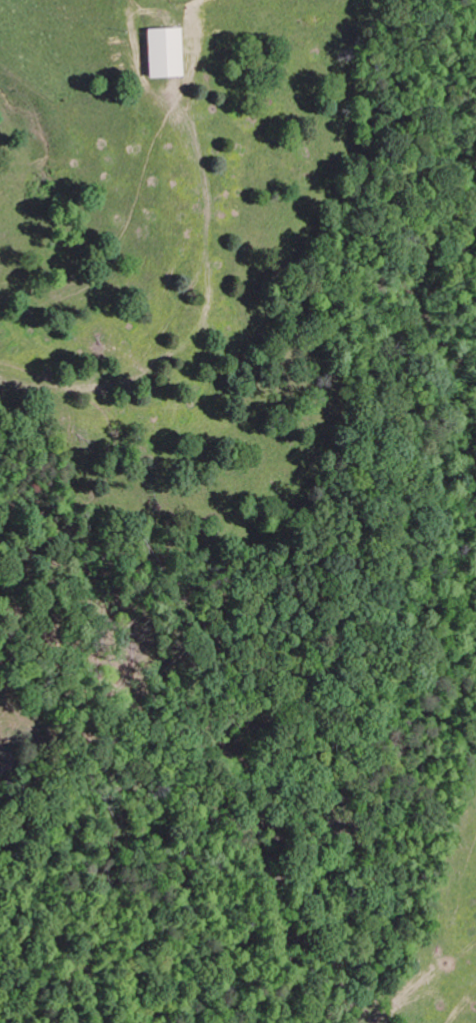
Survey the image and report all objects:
building: (163, 53)

